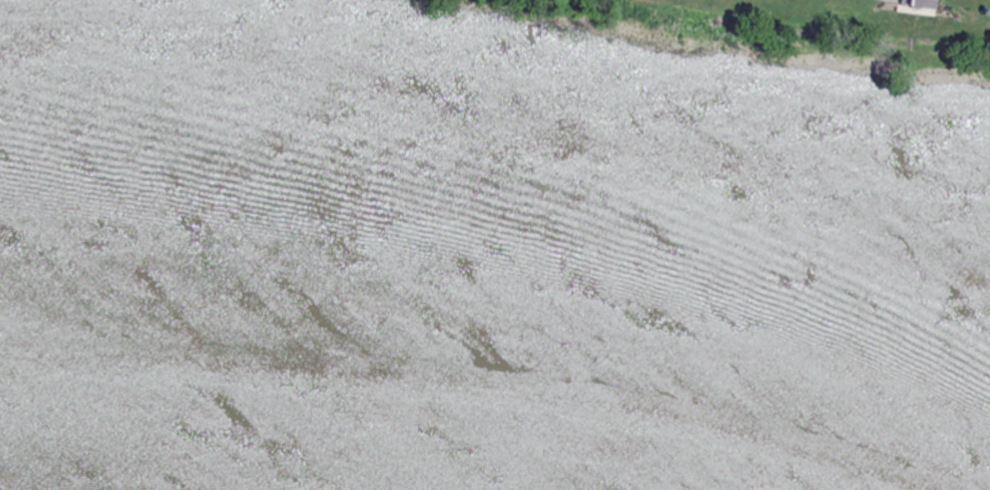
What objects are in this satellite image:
building: (924, 4)

